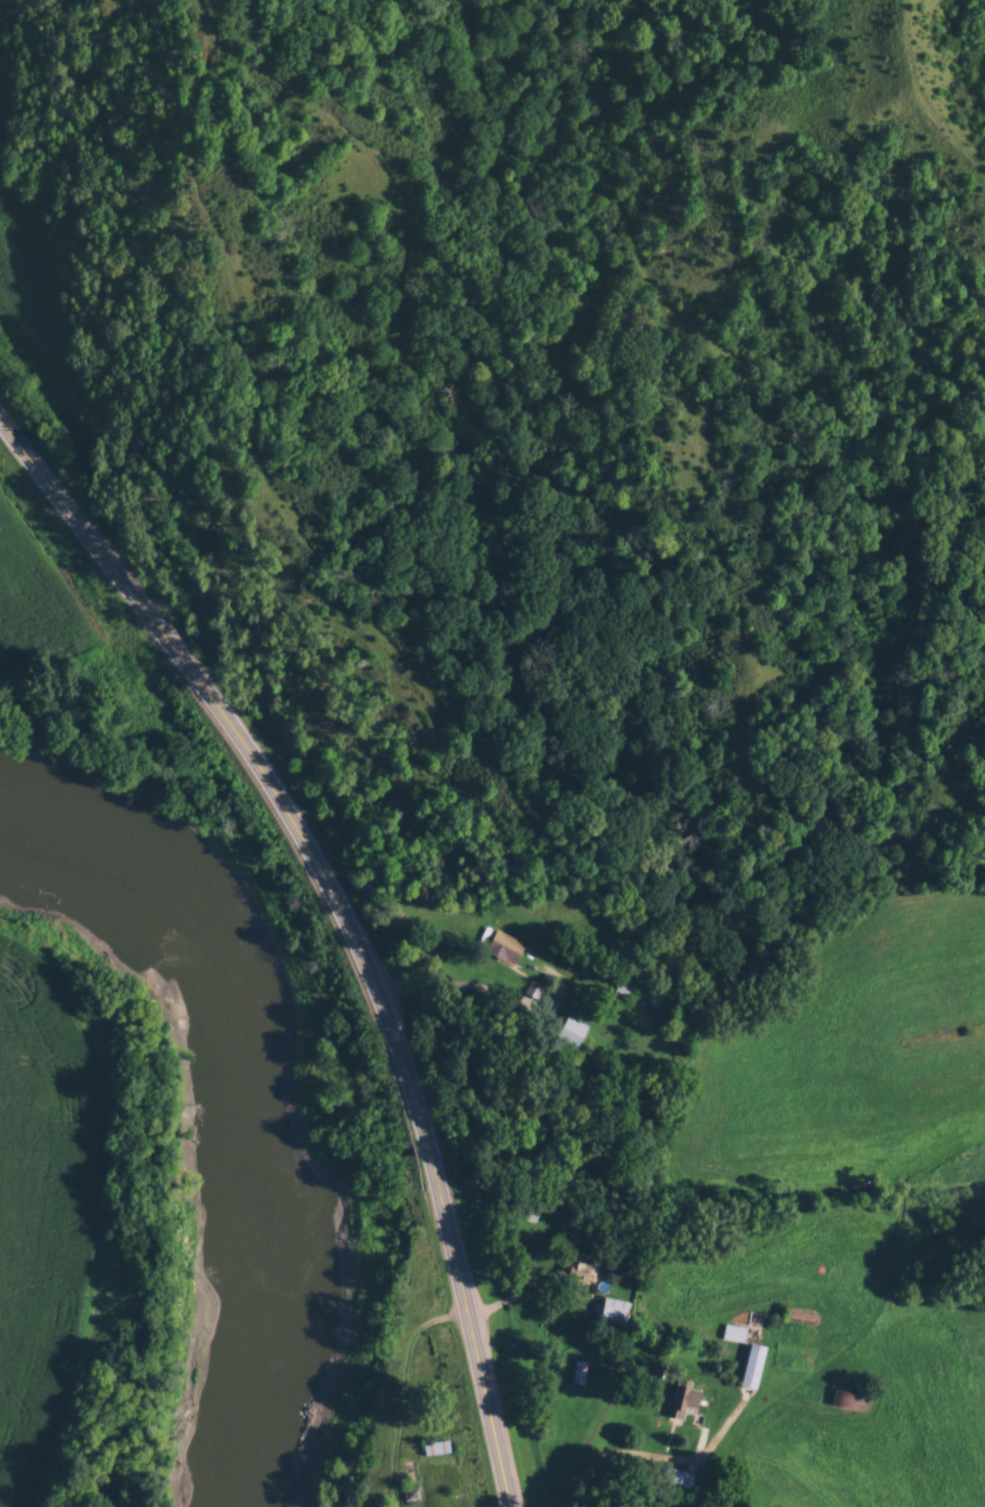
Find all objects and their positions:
road: (347, 919)
building: (501, 943)
building: (533, 986)
building: (623, 990)
building: (657, 998)
building: (572, 1031)
river: (256, 1084)
building: (577, 1265)
building: (615, 1310)
building: (733, 1332)
building: (753, 1365)
building: (579, 1371)
building: (684, 1398)
building: (845, 1398)
building: (437, 1447)
road: (648, 1454)
building: (679, 1477)
building: (411, 1493)

